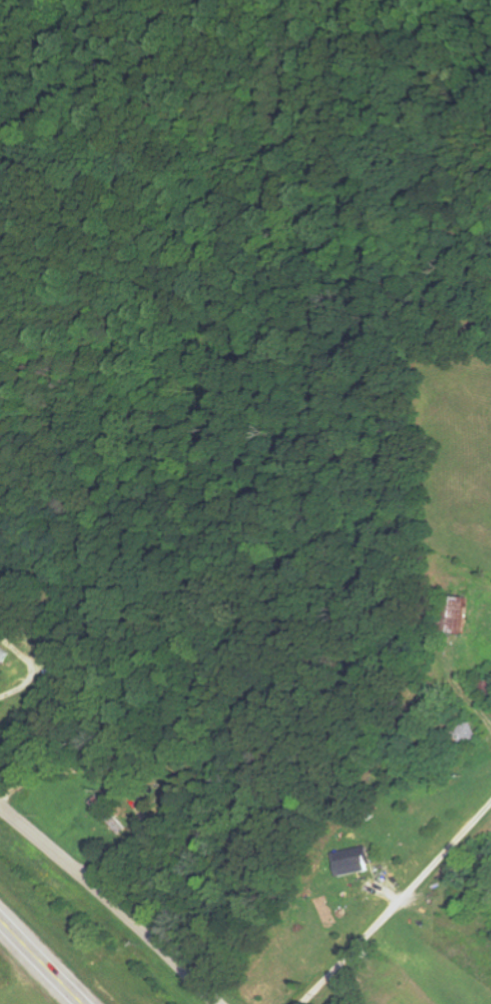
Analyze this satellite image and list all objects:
building: (455, 614)
building: (351, 860)
road: (108, 903)
road: (402, 911)
road: (1, 935)
road: (38, 964)

